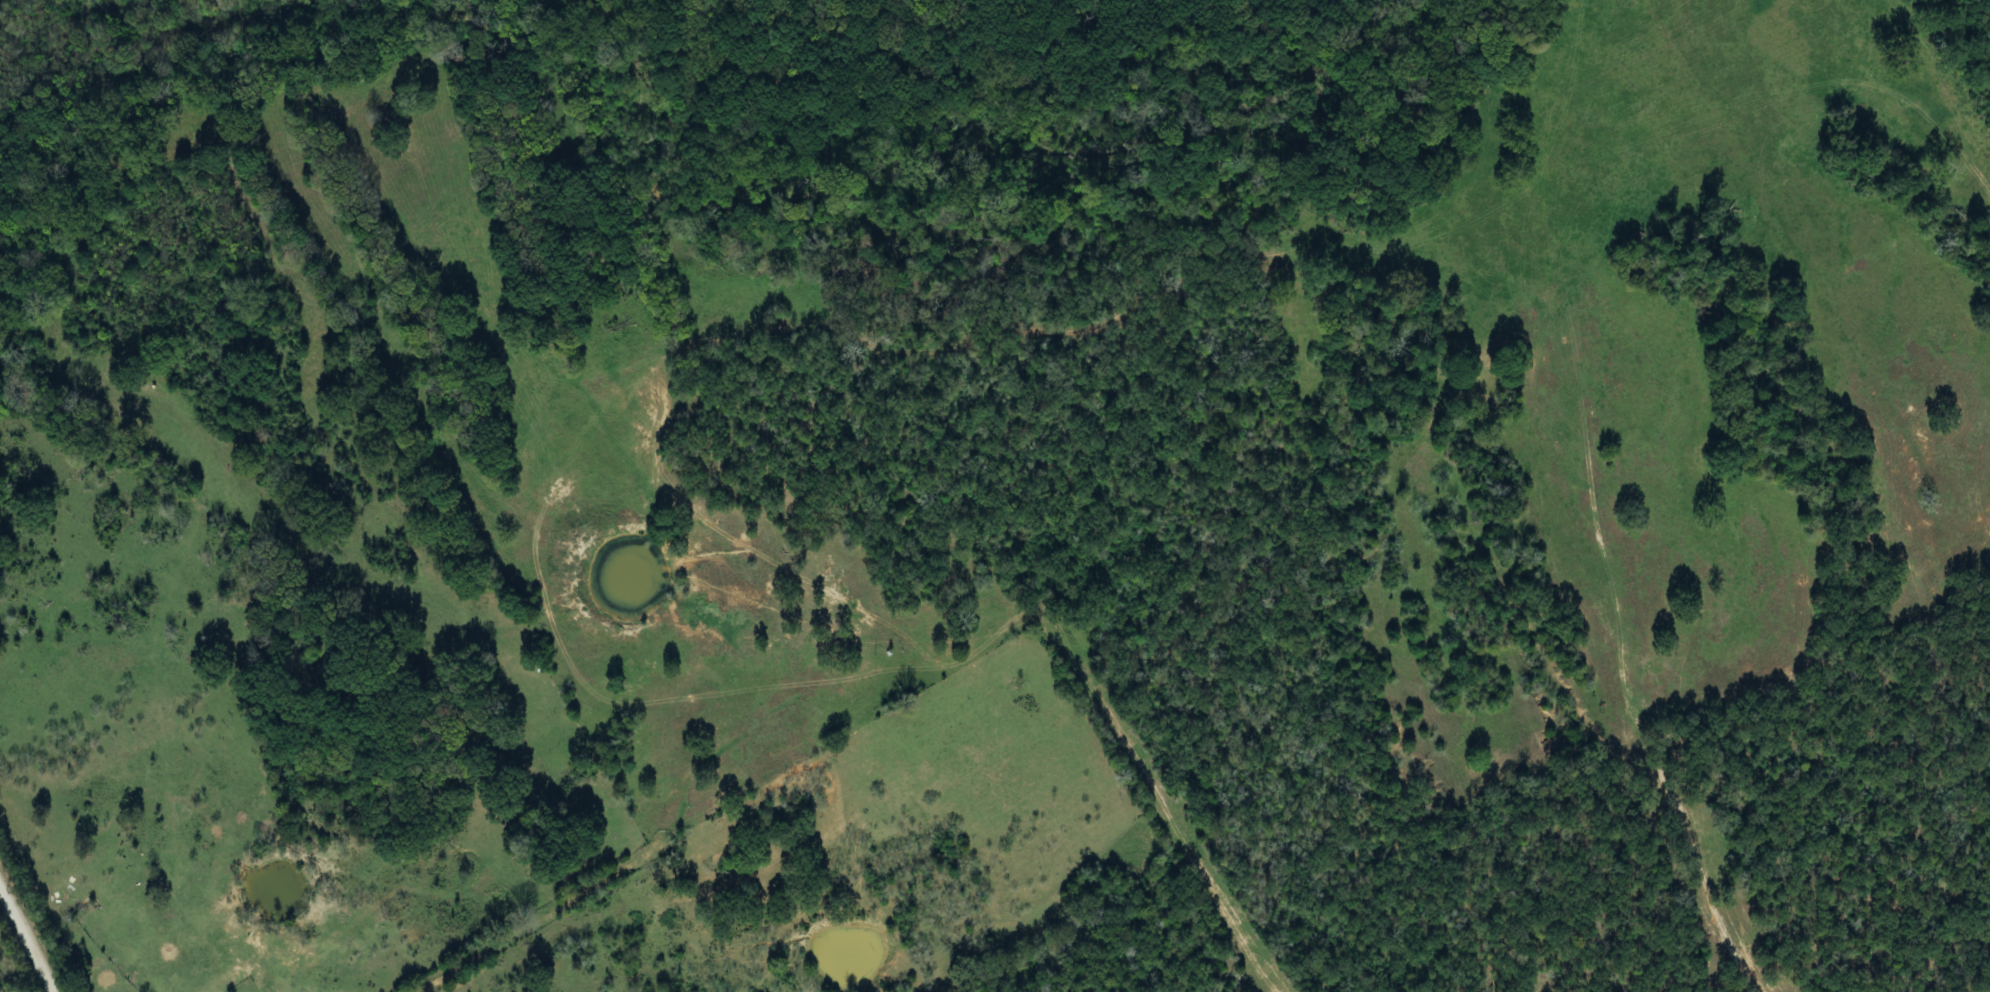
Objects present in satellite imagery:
road: (507, 937)
road: (27, 939)

